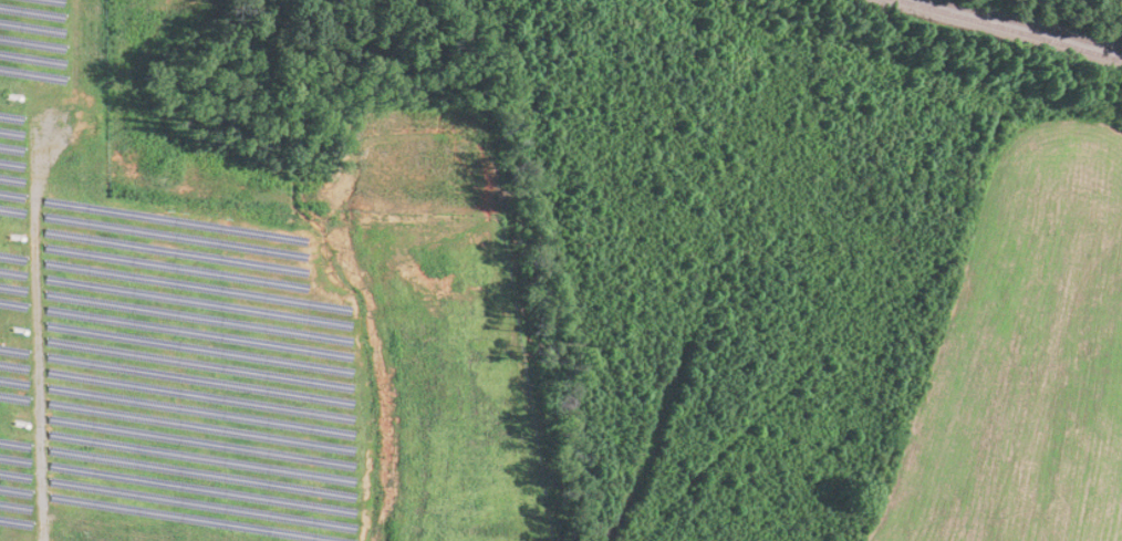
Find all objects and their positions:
railway: (1032, 23)

